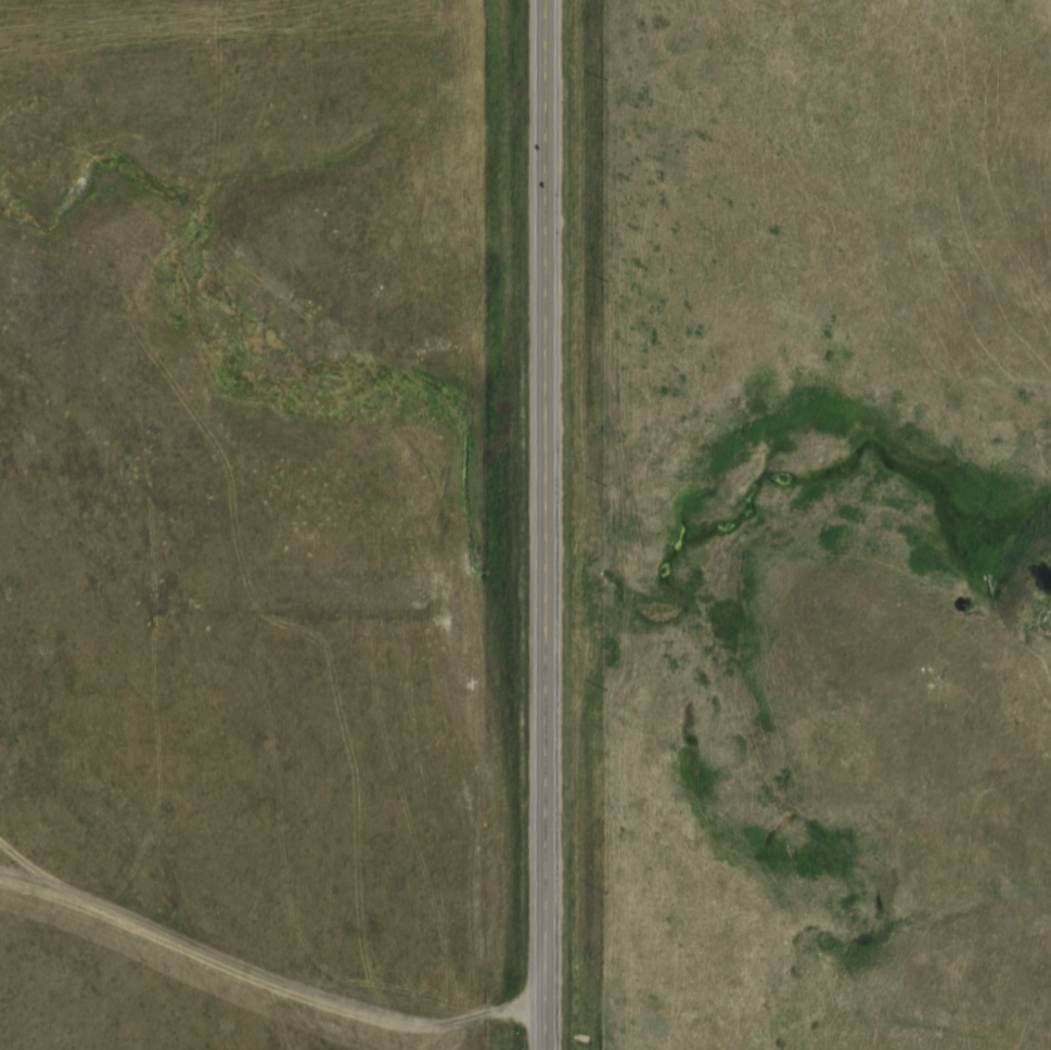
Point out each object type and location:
road: (544, 525)
road: (265, 960)

